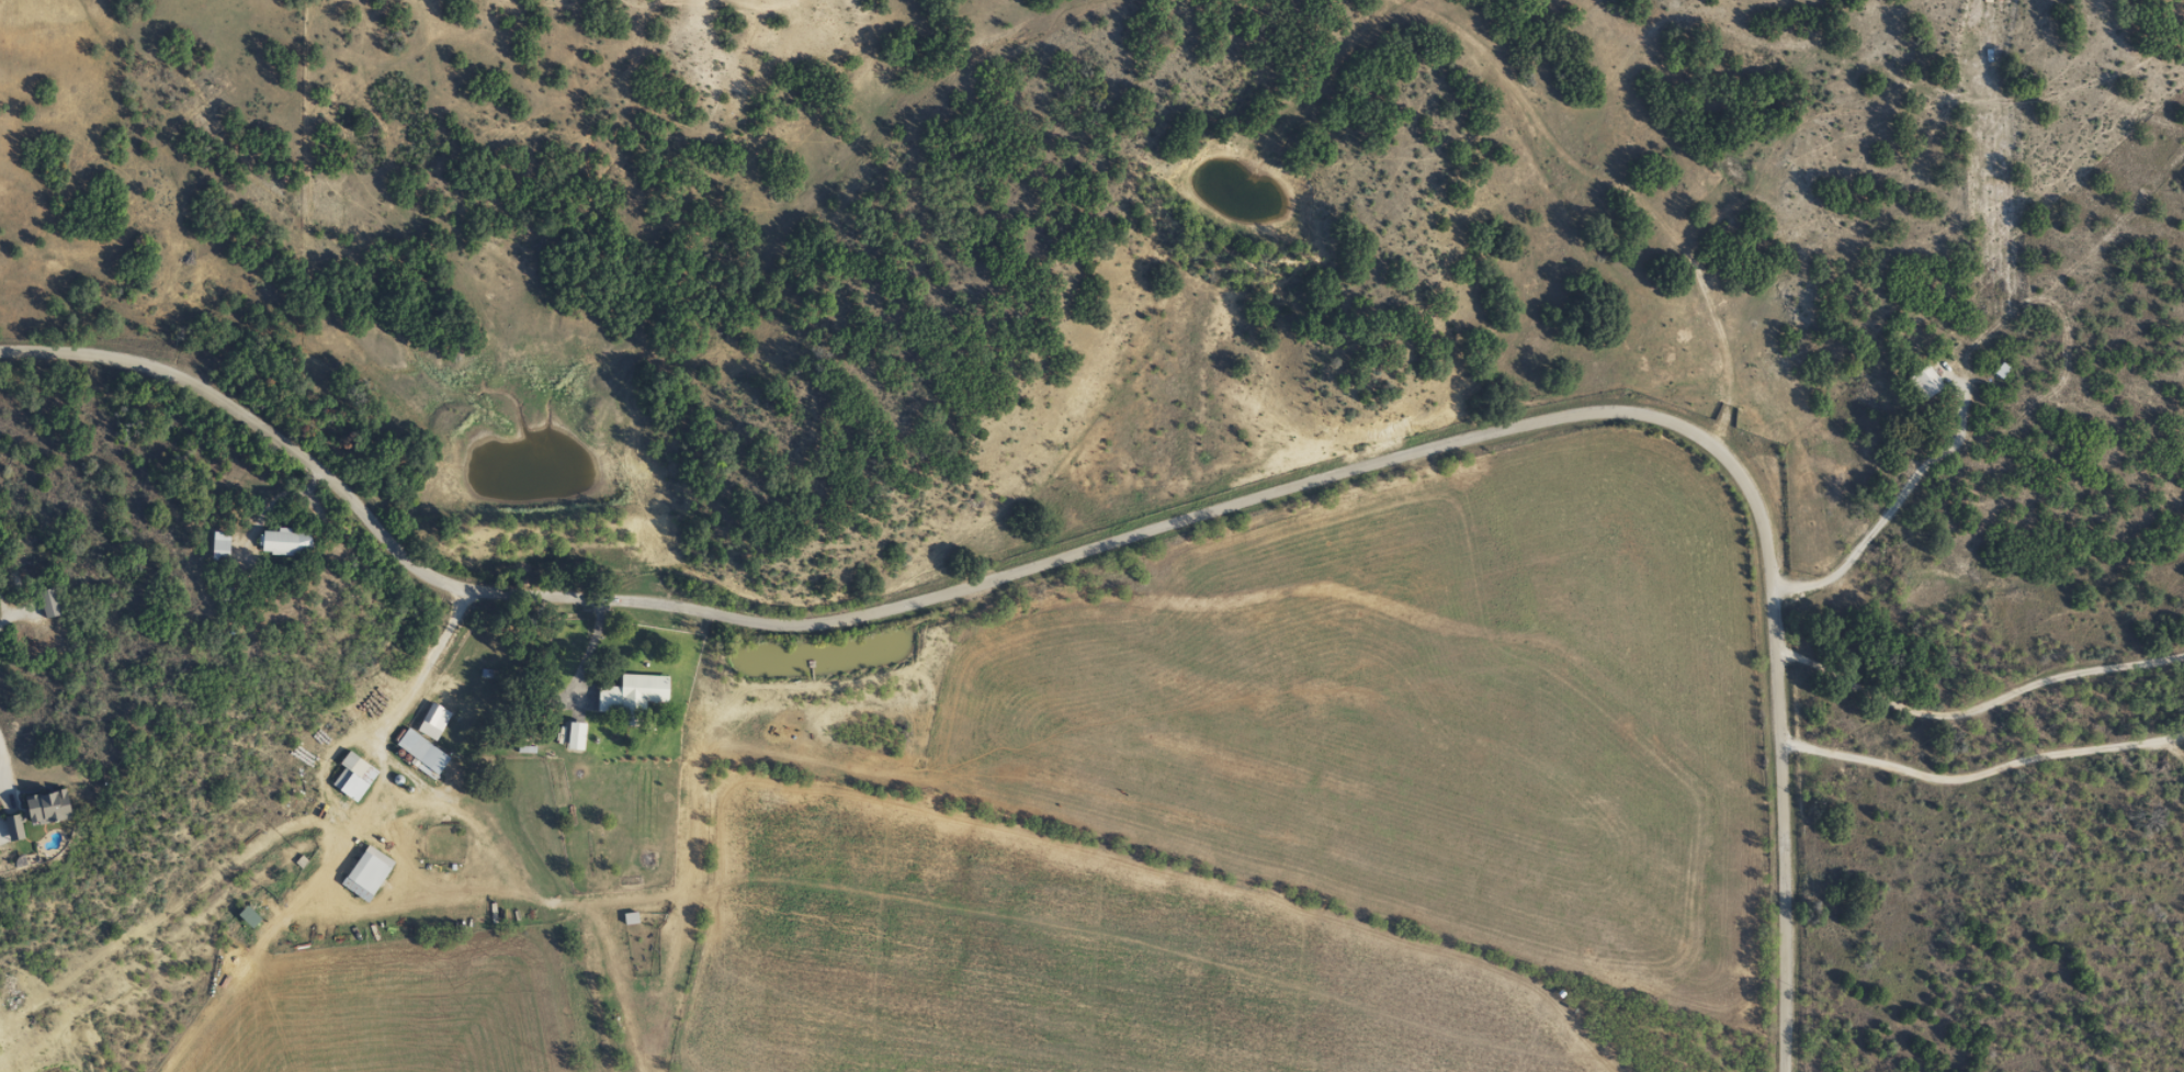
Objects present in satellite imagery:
road: (1344, 54)
road: (1418, 57)
road: (1298, 171)
building: (1921, 382)
road: (1151, 501)
building: (281, 541)
building: (216, 545)
building: (45, 601)
building: (630, 693)
building: (430, 721)
building: (572, 735)
building: (418, 753)
building: (349, 776)
building: (41, 806)
building: (363, 872)

